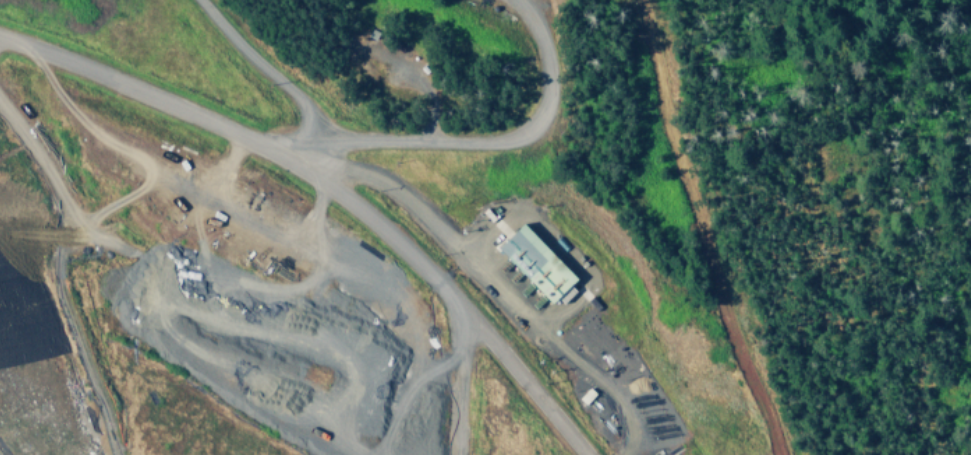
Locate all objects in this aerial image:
road: (331, 193)
landfill: (366, 234)
building: (537, 262)

